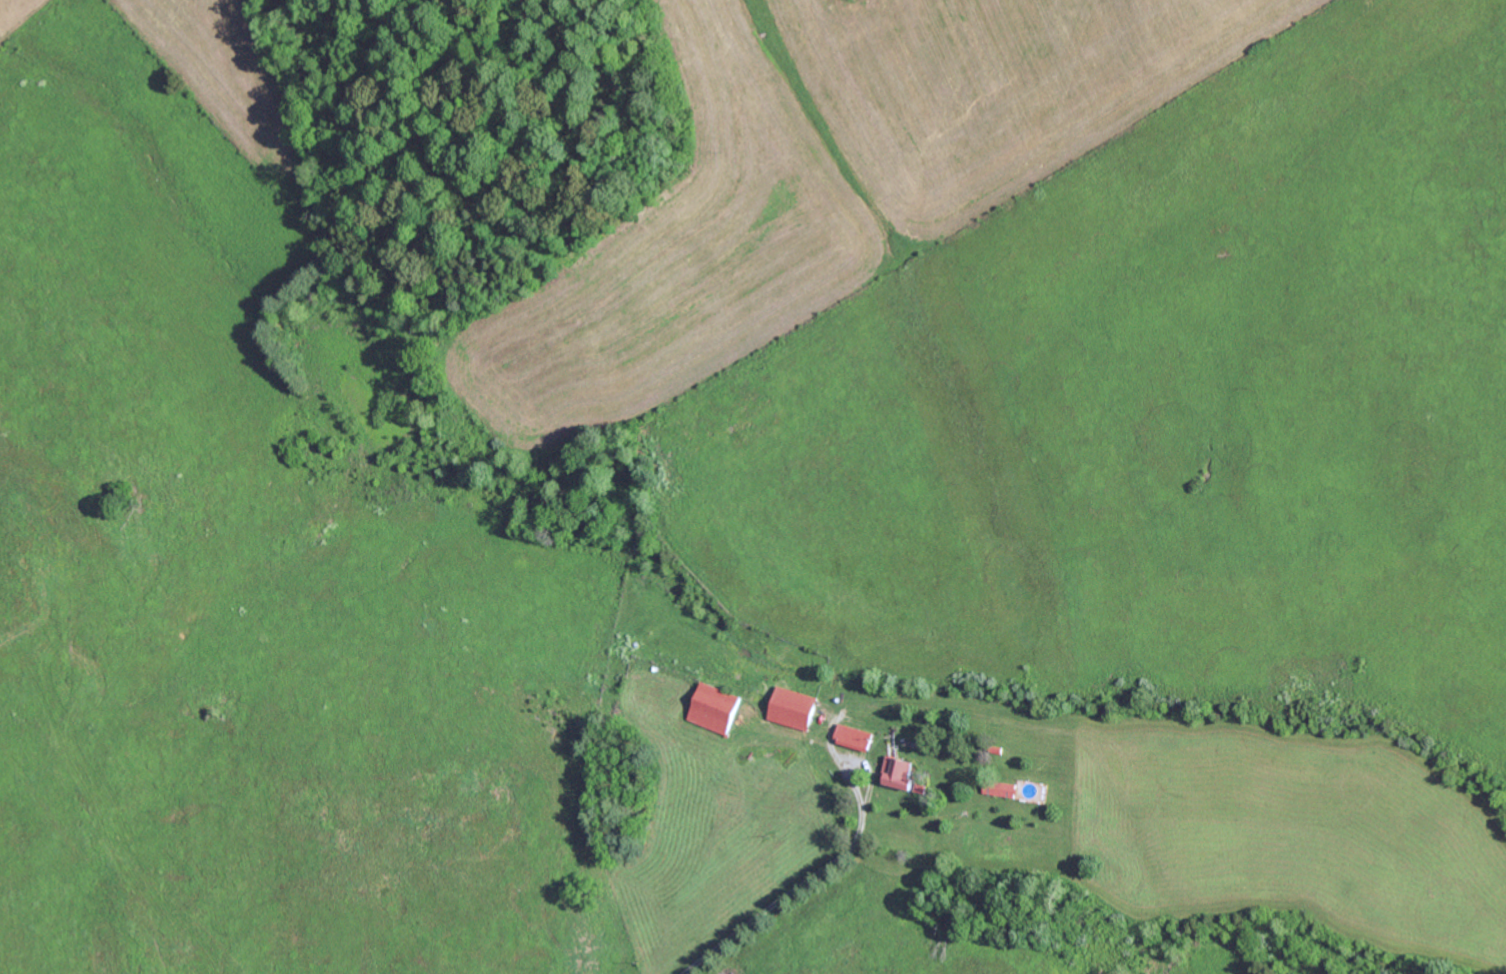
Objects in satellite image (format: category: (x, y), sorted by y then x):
building: (719, 708)
building: (797, 709)
building: (856, 737)
building: (904, 774)

